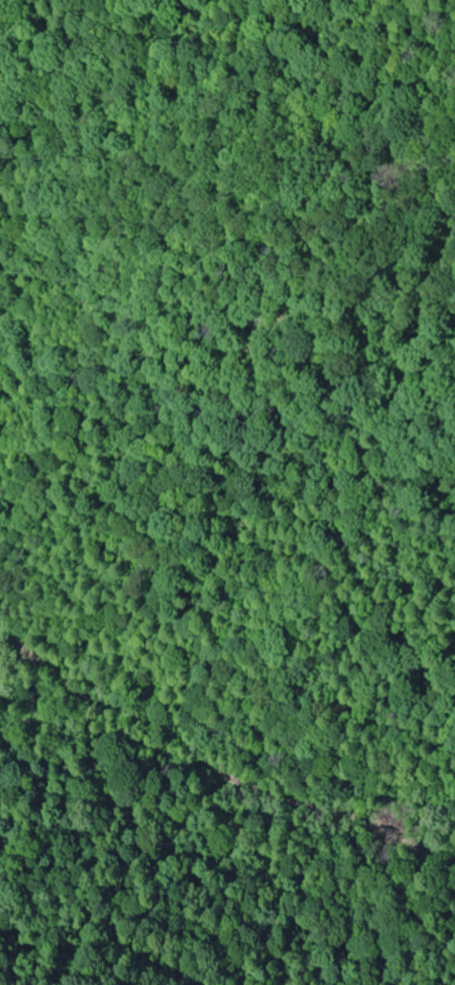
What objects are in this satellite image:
road: (227, 784)

